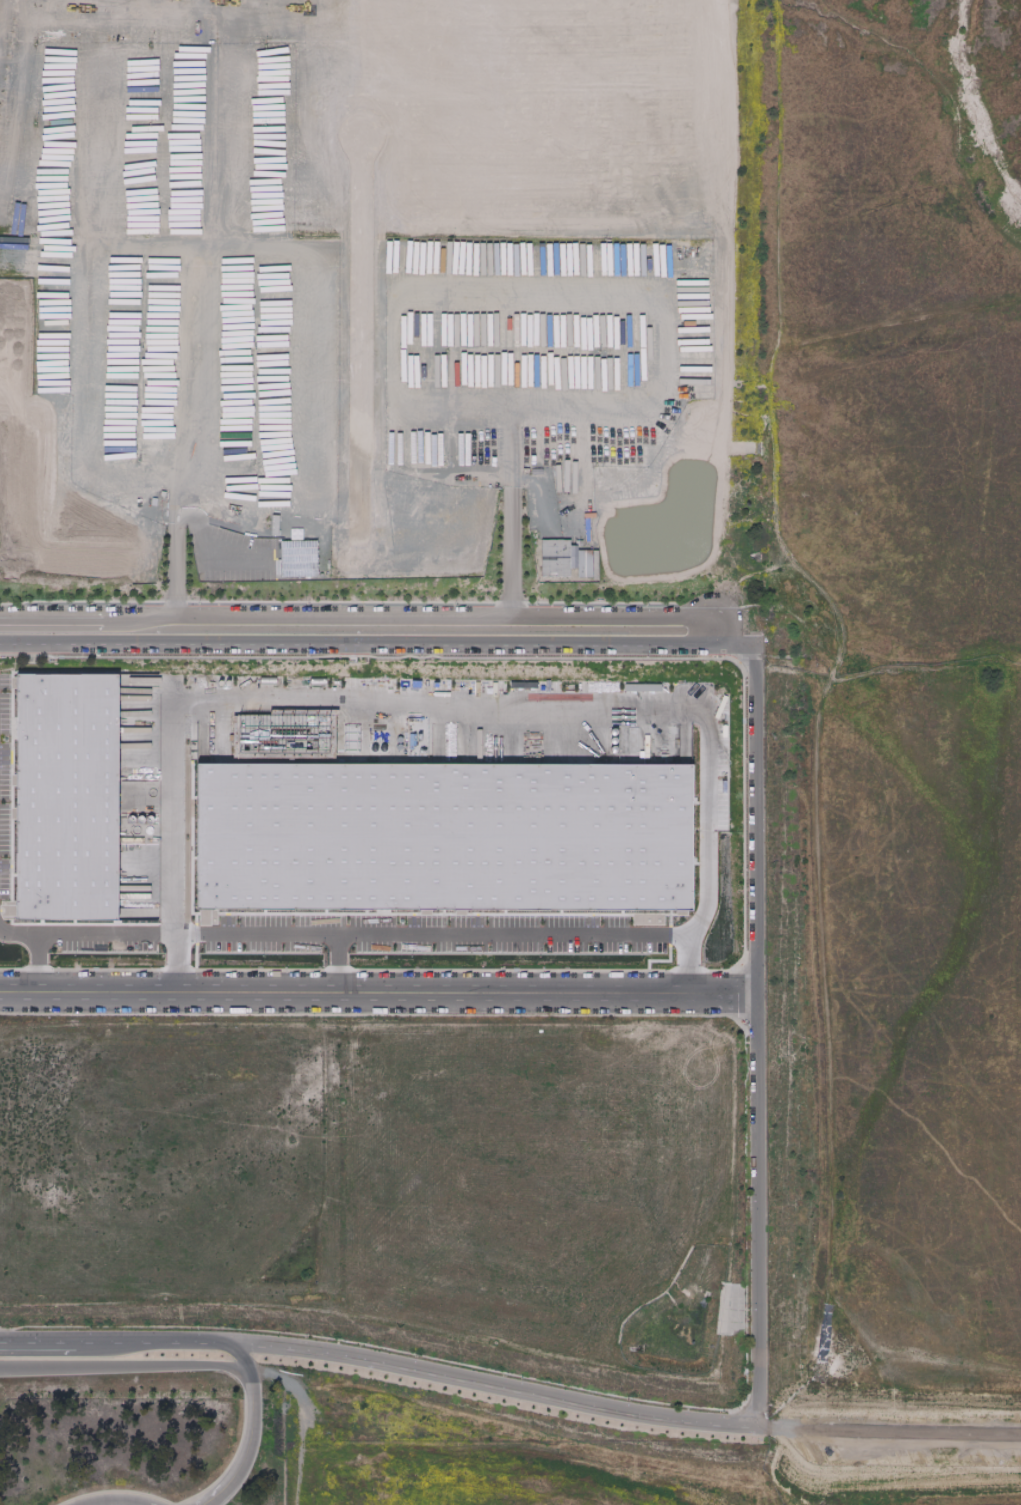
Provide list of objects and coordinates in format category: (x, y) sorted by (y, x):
road: (552, 295)
road: (909, 323)
road: (181, 514)
building: (301, 559)
road: (361, 619)
road: (360, 646)
road: (867, 668)
road: (826, 674)
road: (343, 702)
building: (72, 798)
road: (754, 806)
building: (451, 838)
road: (507, 928)
road: (221, 930)
road: (16, 931)
road: (376, 994)
road: (753, 1212)
road: (37, 1343)
road: (149, 1345)
road: (235, 1359)
road: (122, 1371)
road: (488, 1388)
road: (887, 1429)
road: (246, 1446)
road: (887, 1455)
road: (695, 1481)
road: (116, 1500)

